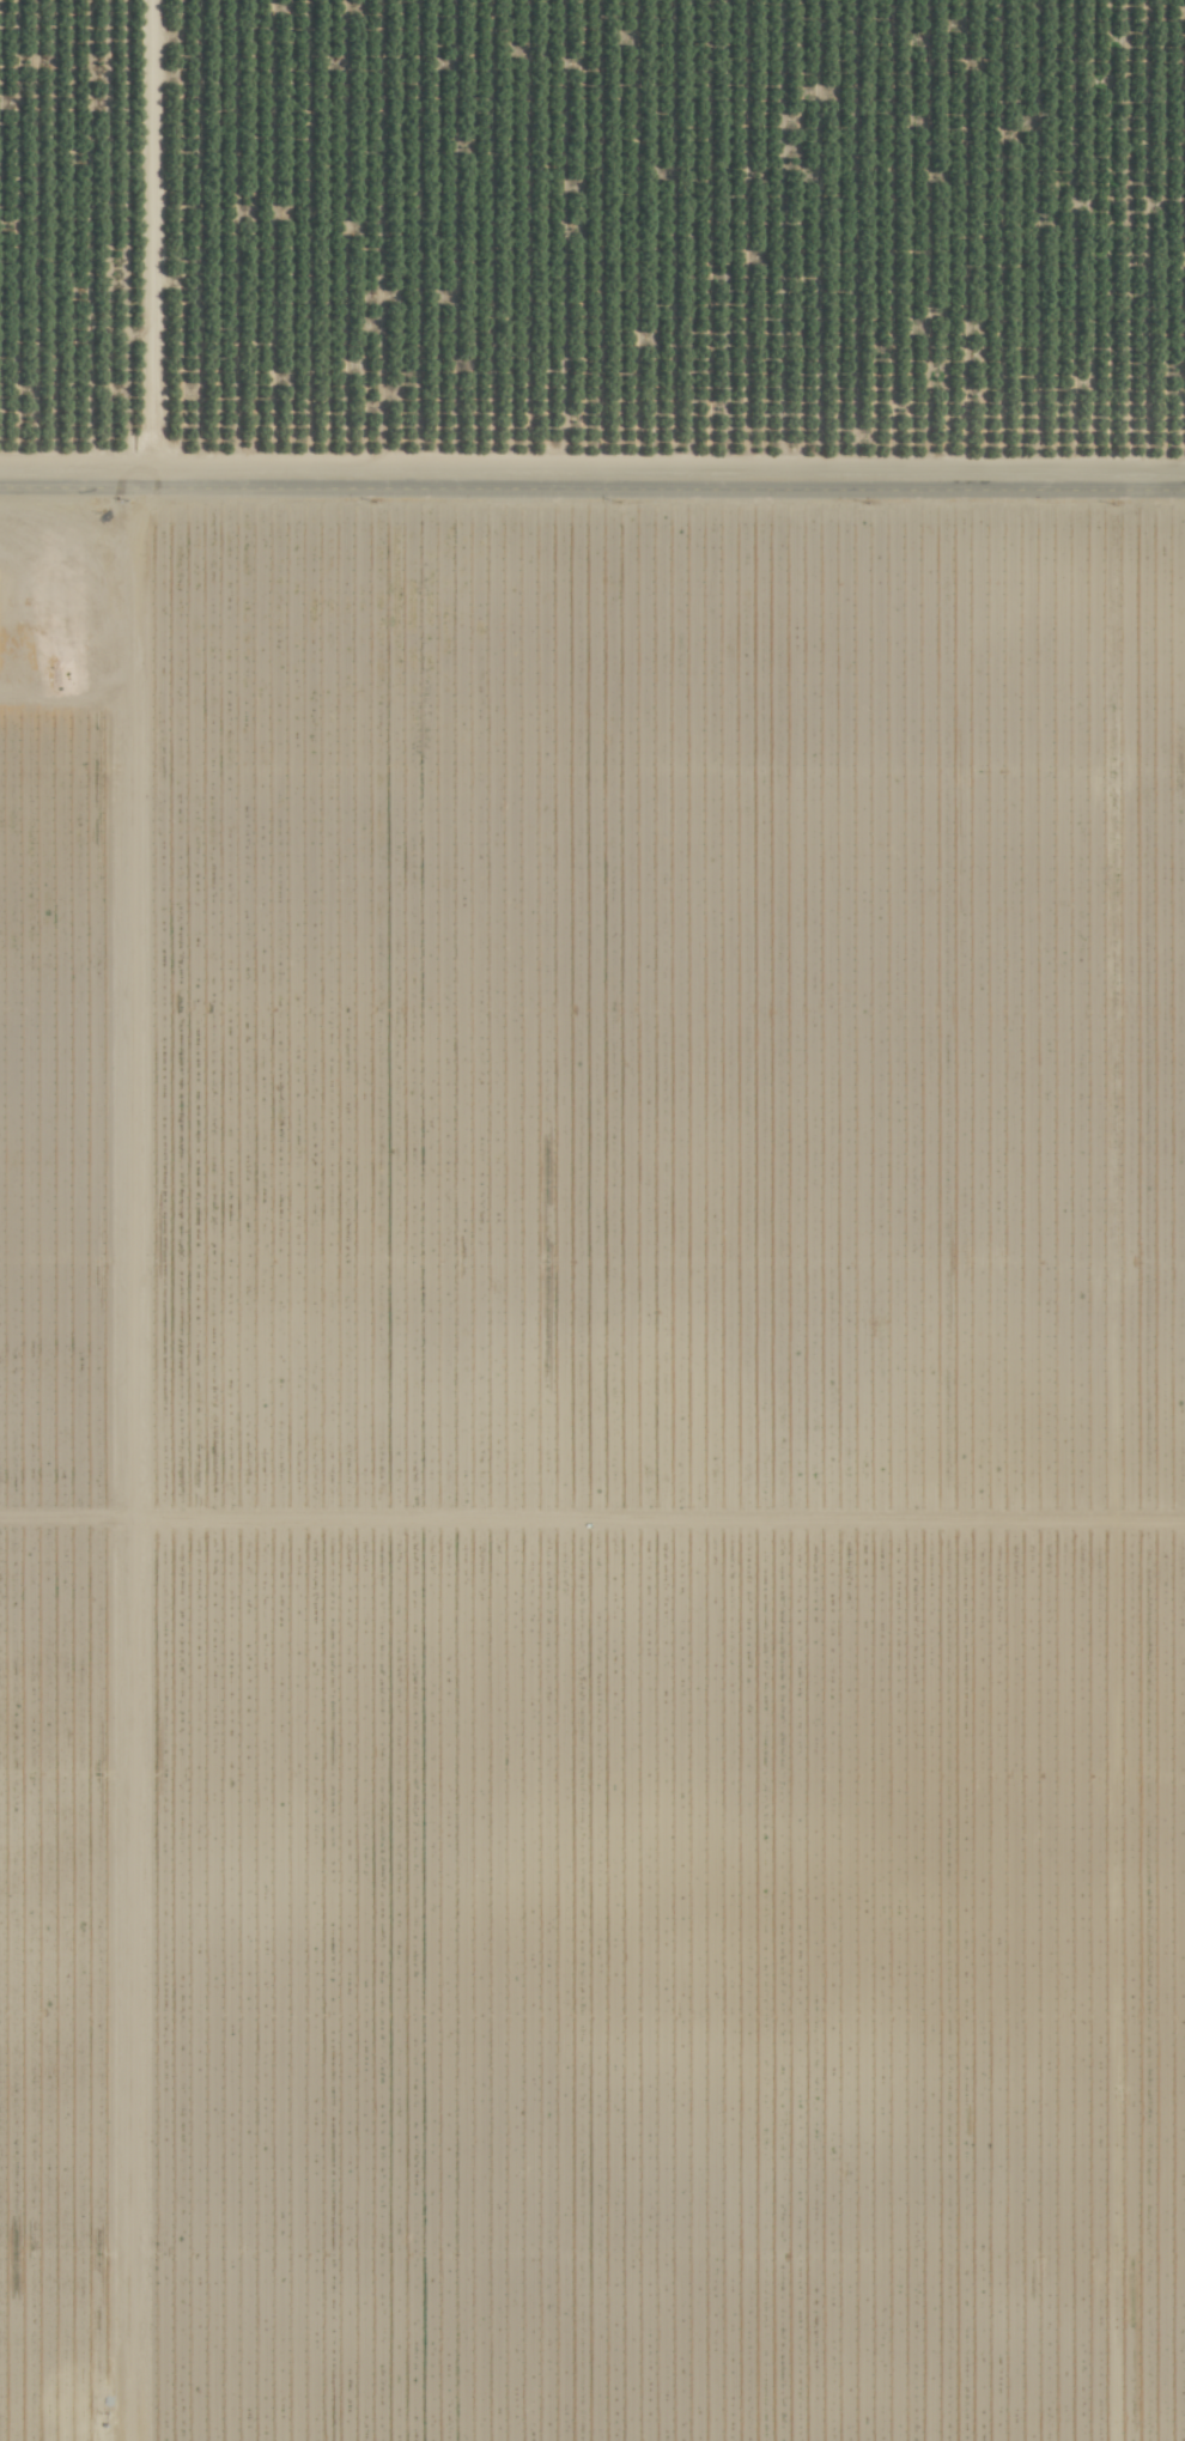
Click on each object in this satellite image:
road: (592, 494)

